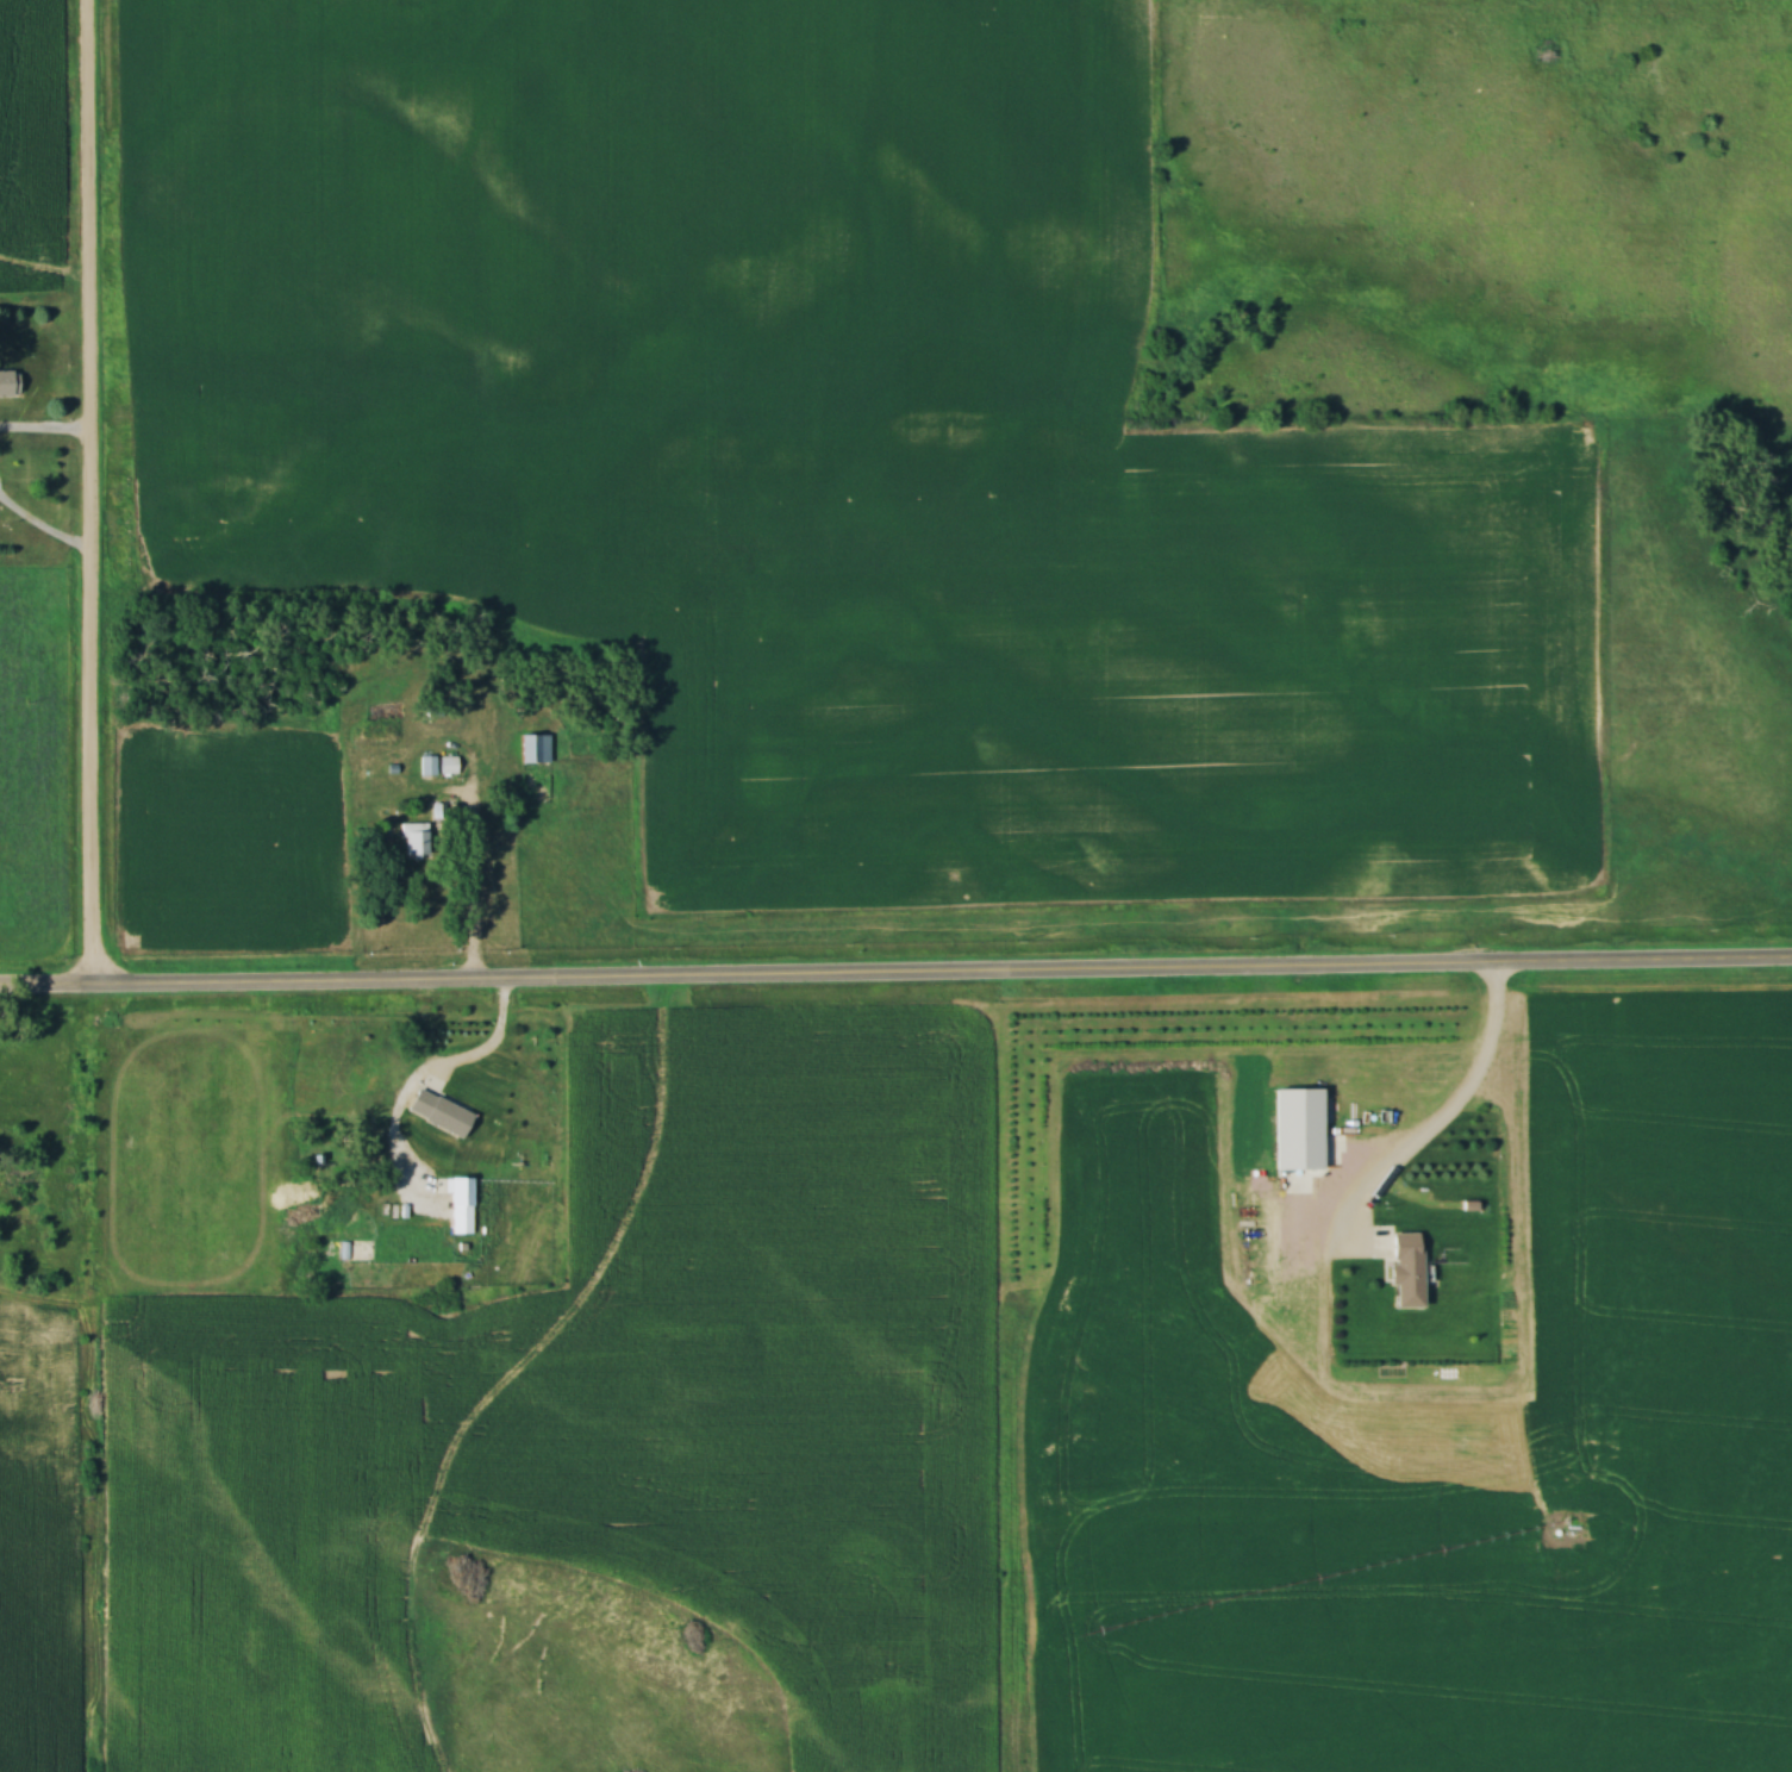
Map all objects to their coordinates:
building: (5, 382)
road: (89, 494)
building: (530, 748)
building: (436, 765)
building: (411, 840)
road: (470, 917)
road: (895, 979)
building: (376, 1071)
road: (452, 1106)
building: (1292, 1129)
building: (456, 1192)
building: (1399, 1271)

